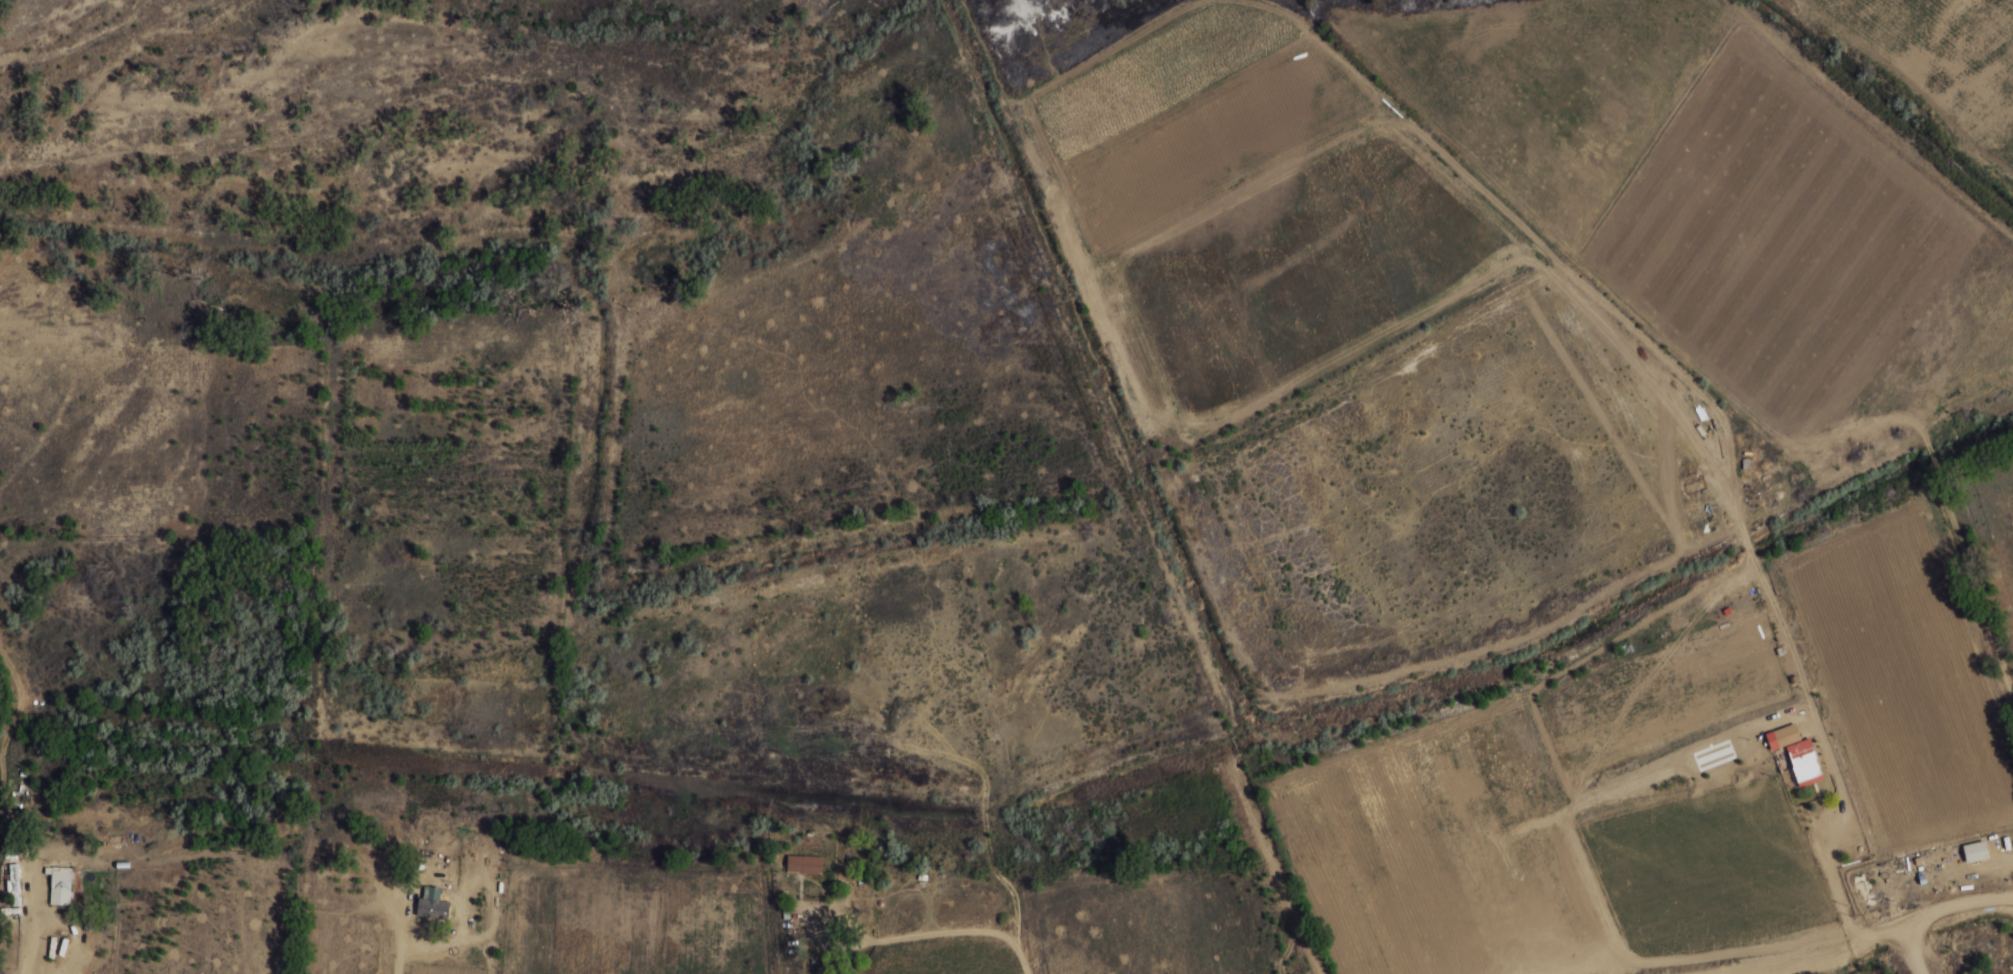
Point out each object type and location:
building: (1796, 754)
building: (1975, 852)
building: (804, 864)
building: (1859, 878)
building: (61, 886)
road: (1974, 899)
building: (433, 903)
road: (1915, 938)
road: (1827, 953)

